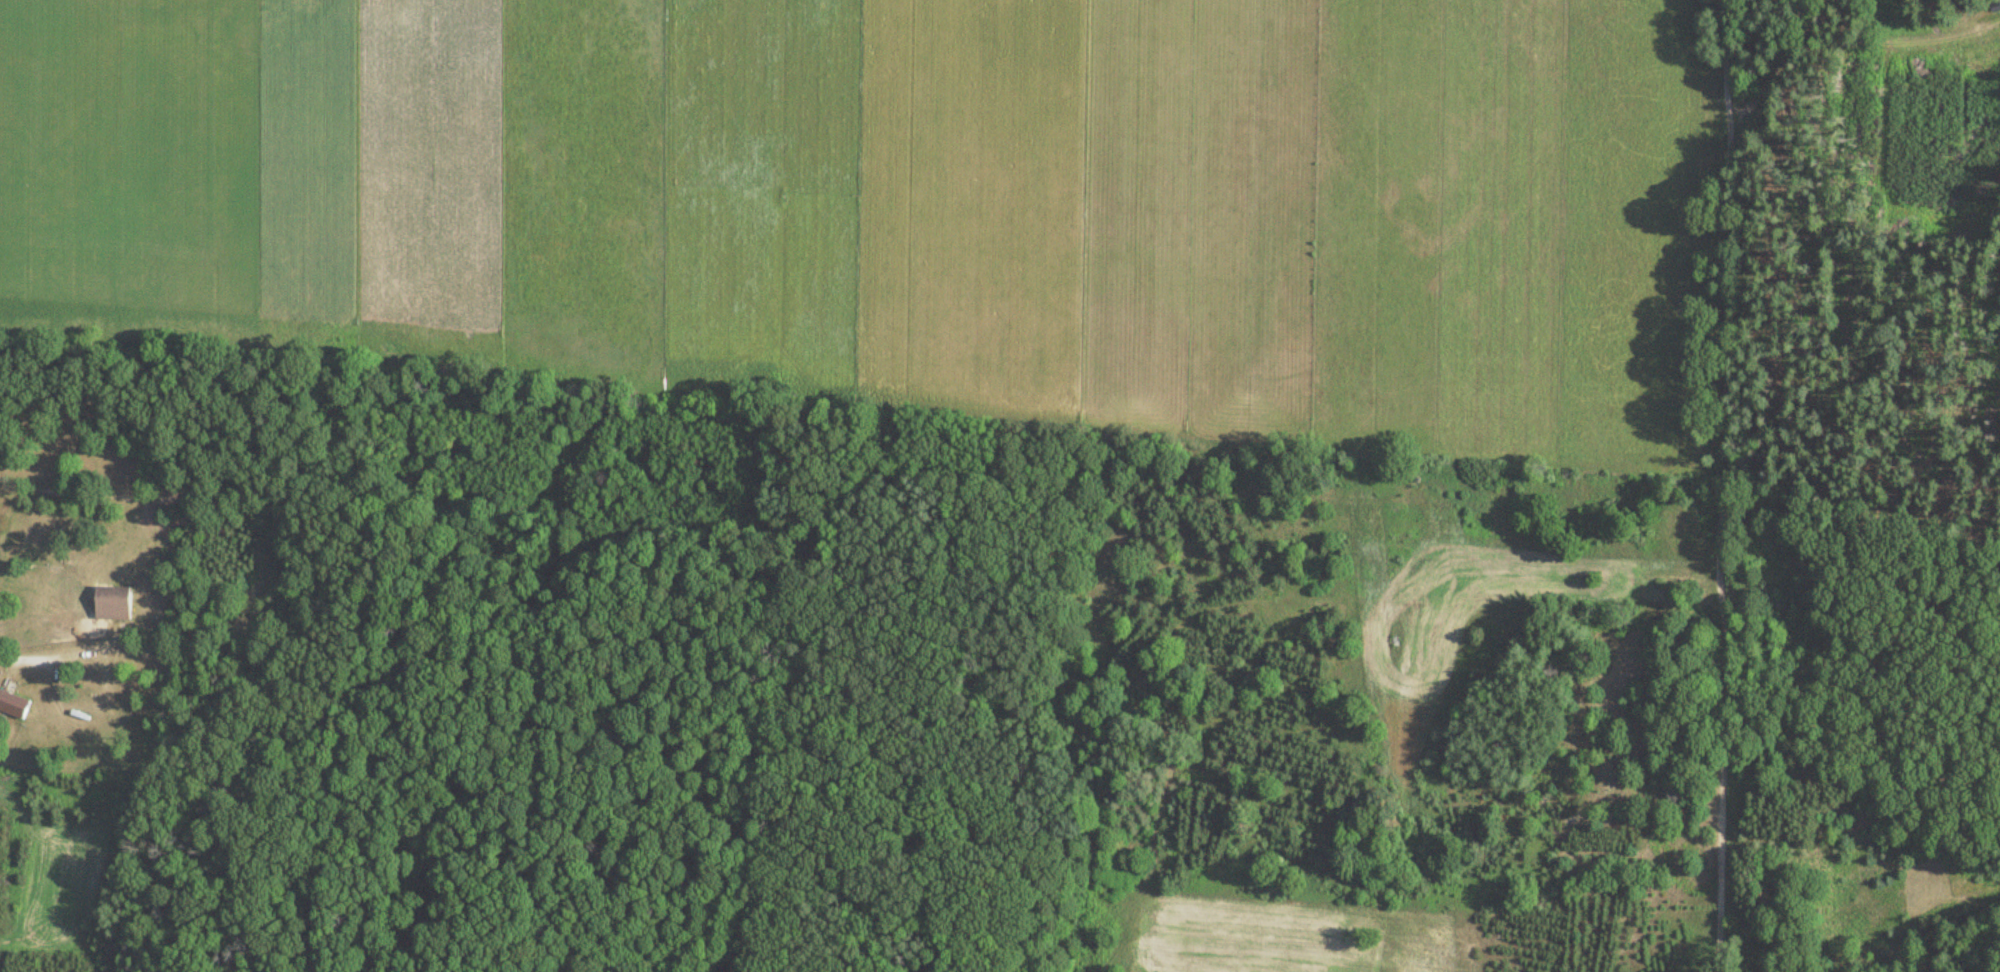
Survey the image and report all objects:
road: (1724, 486)
building: (110, 602)
road: (15, 658)
building: (11, 706)

